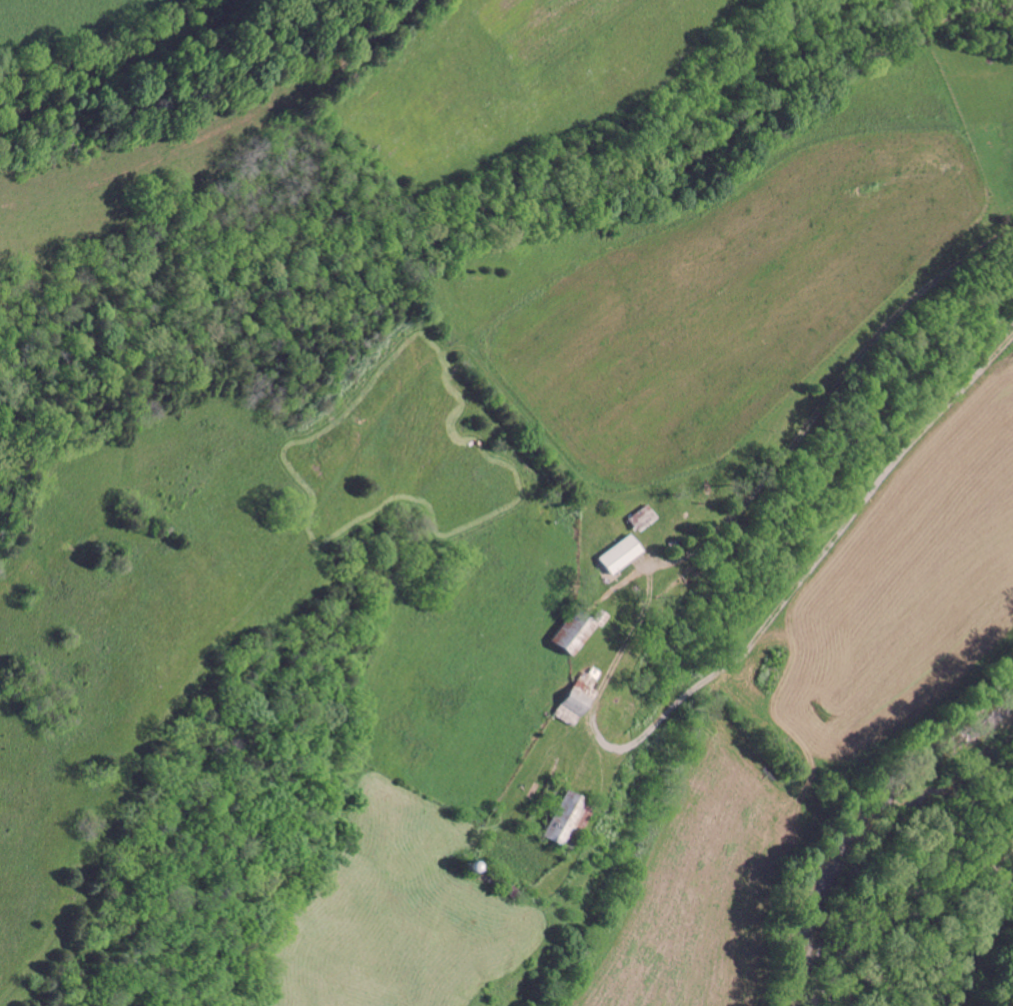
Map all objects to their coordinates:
building: (645, 516)
building: (624, 553)
building: (580, 630)
road: (598, 692)
building: (581, 696)
building: (569, 816)

